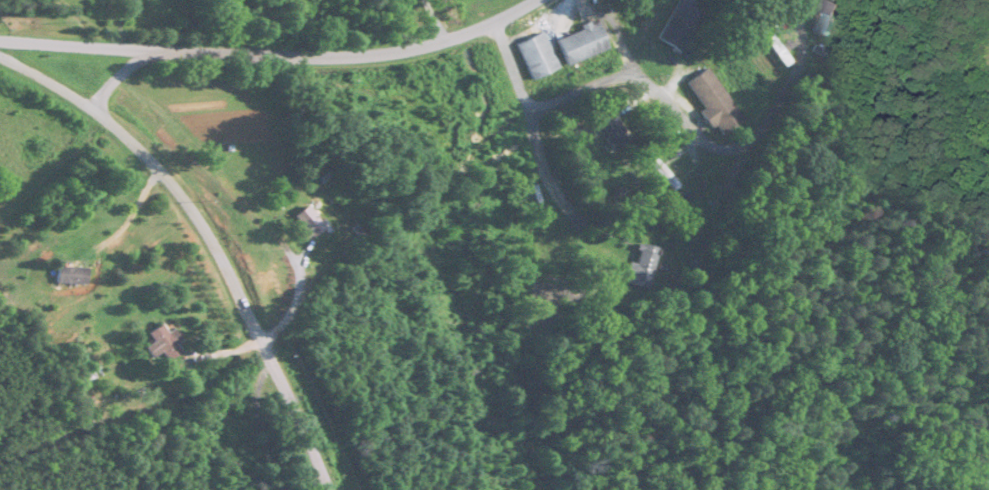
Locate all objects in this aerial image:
building: (827, 15)
road: (427, 22)
building: (681, 24)
building: (582, 43)
road: (75, 45)
road: (307, 56)
building: (537, 56)
building: (713, 101)
road: (673, 104)
road: (544, 169)
road: (133, 202)
building: (308, 222)
road: (210, 236)
building: (641, 266)
building: (71, 276)
building: (163, 343)

